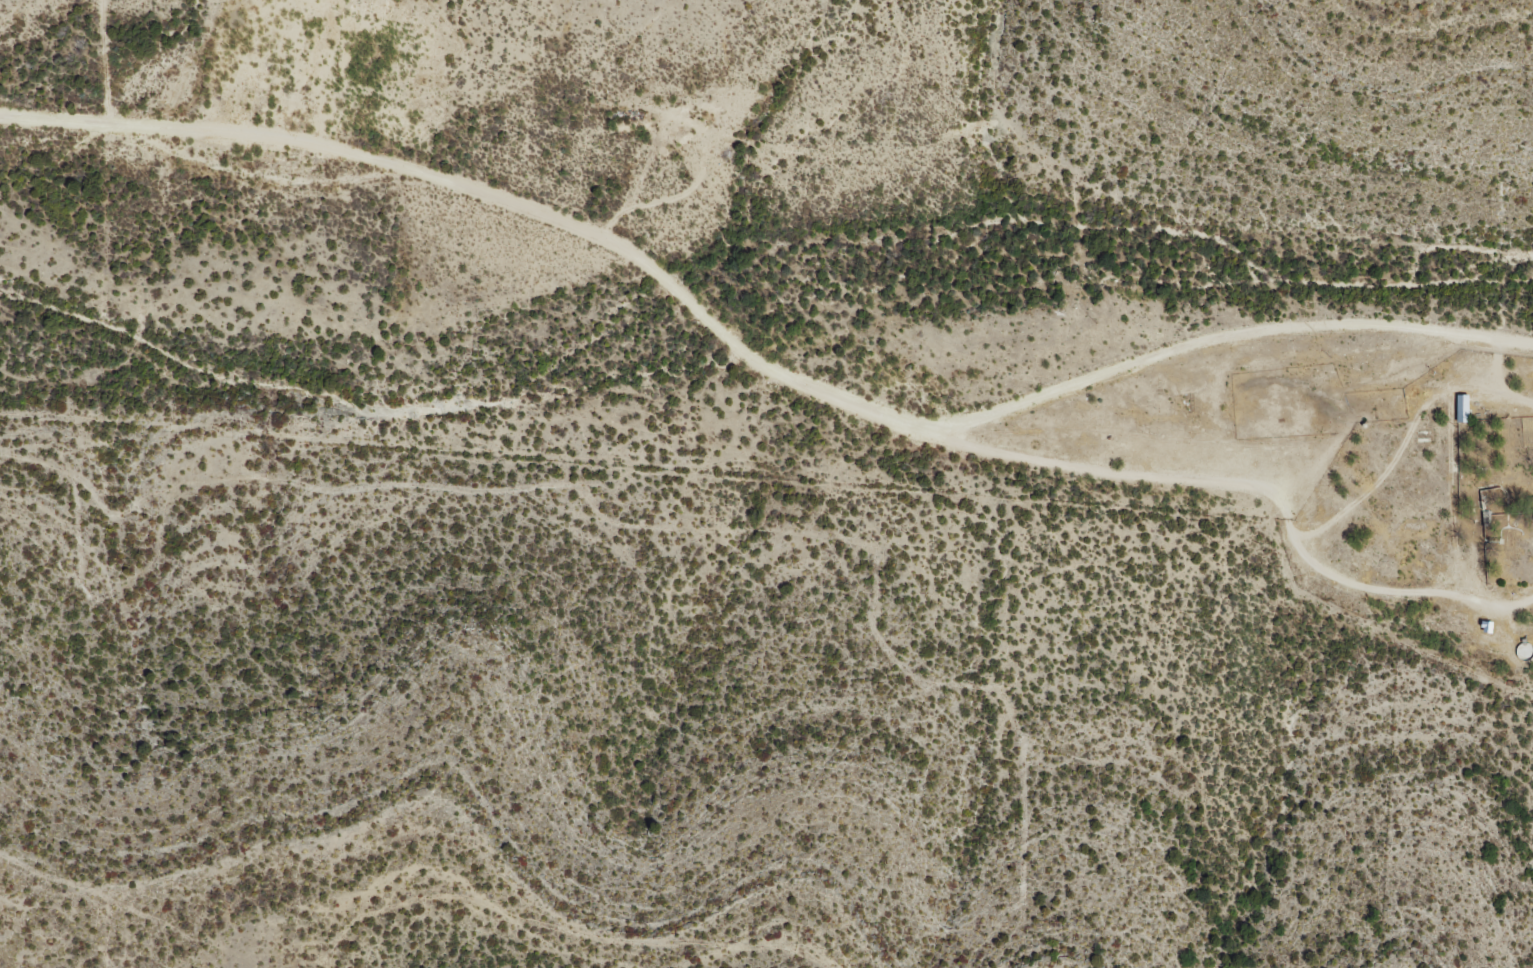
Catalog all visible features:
road: (786, 355)
road: (1243, 382)

